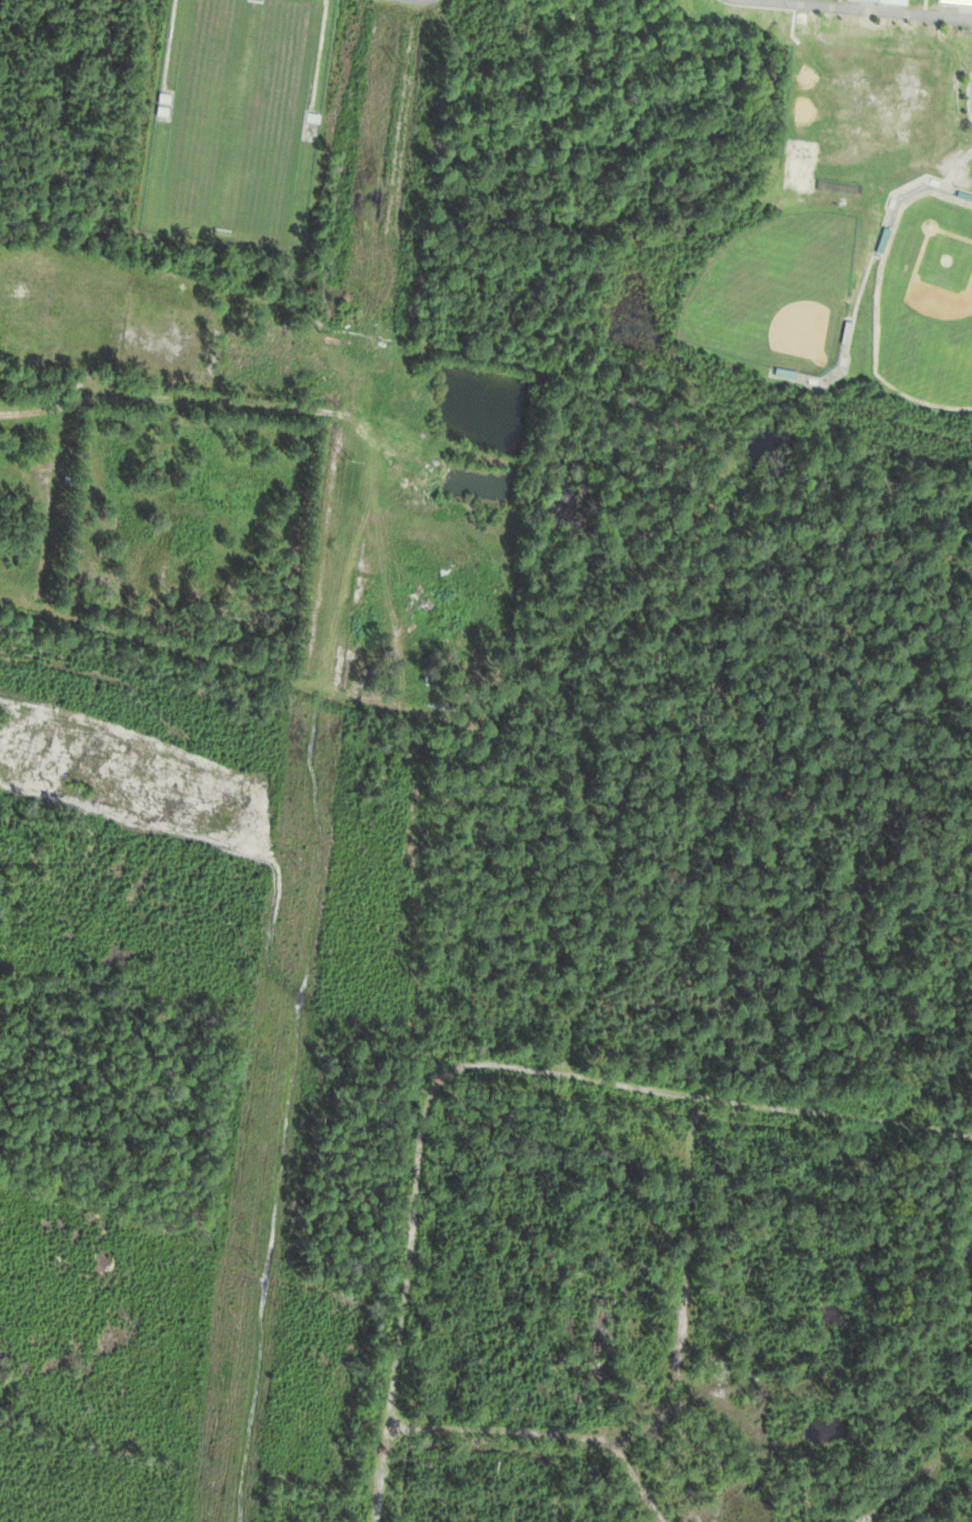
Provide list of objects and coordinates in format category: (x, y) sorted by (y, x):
building: (875, 2)
building: (955, 2)
road: (867, 10)
power tower: (398, 62)
park: (776, 293)
park: (925, 302)
power tower: (345, 464)
power tower: (299, 867)
power tower: (250, 1263)

